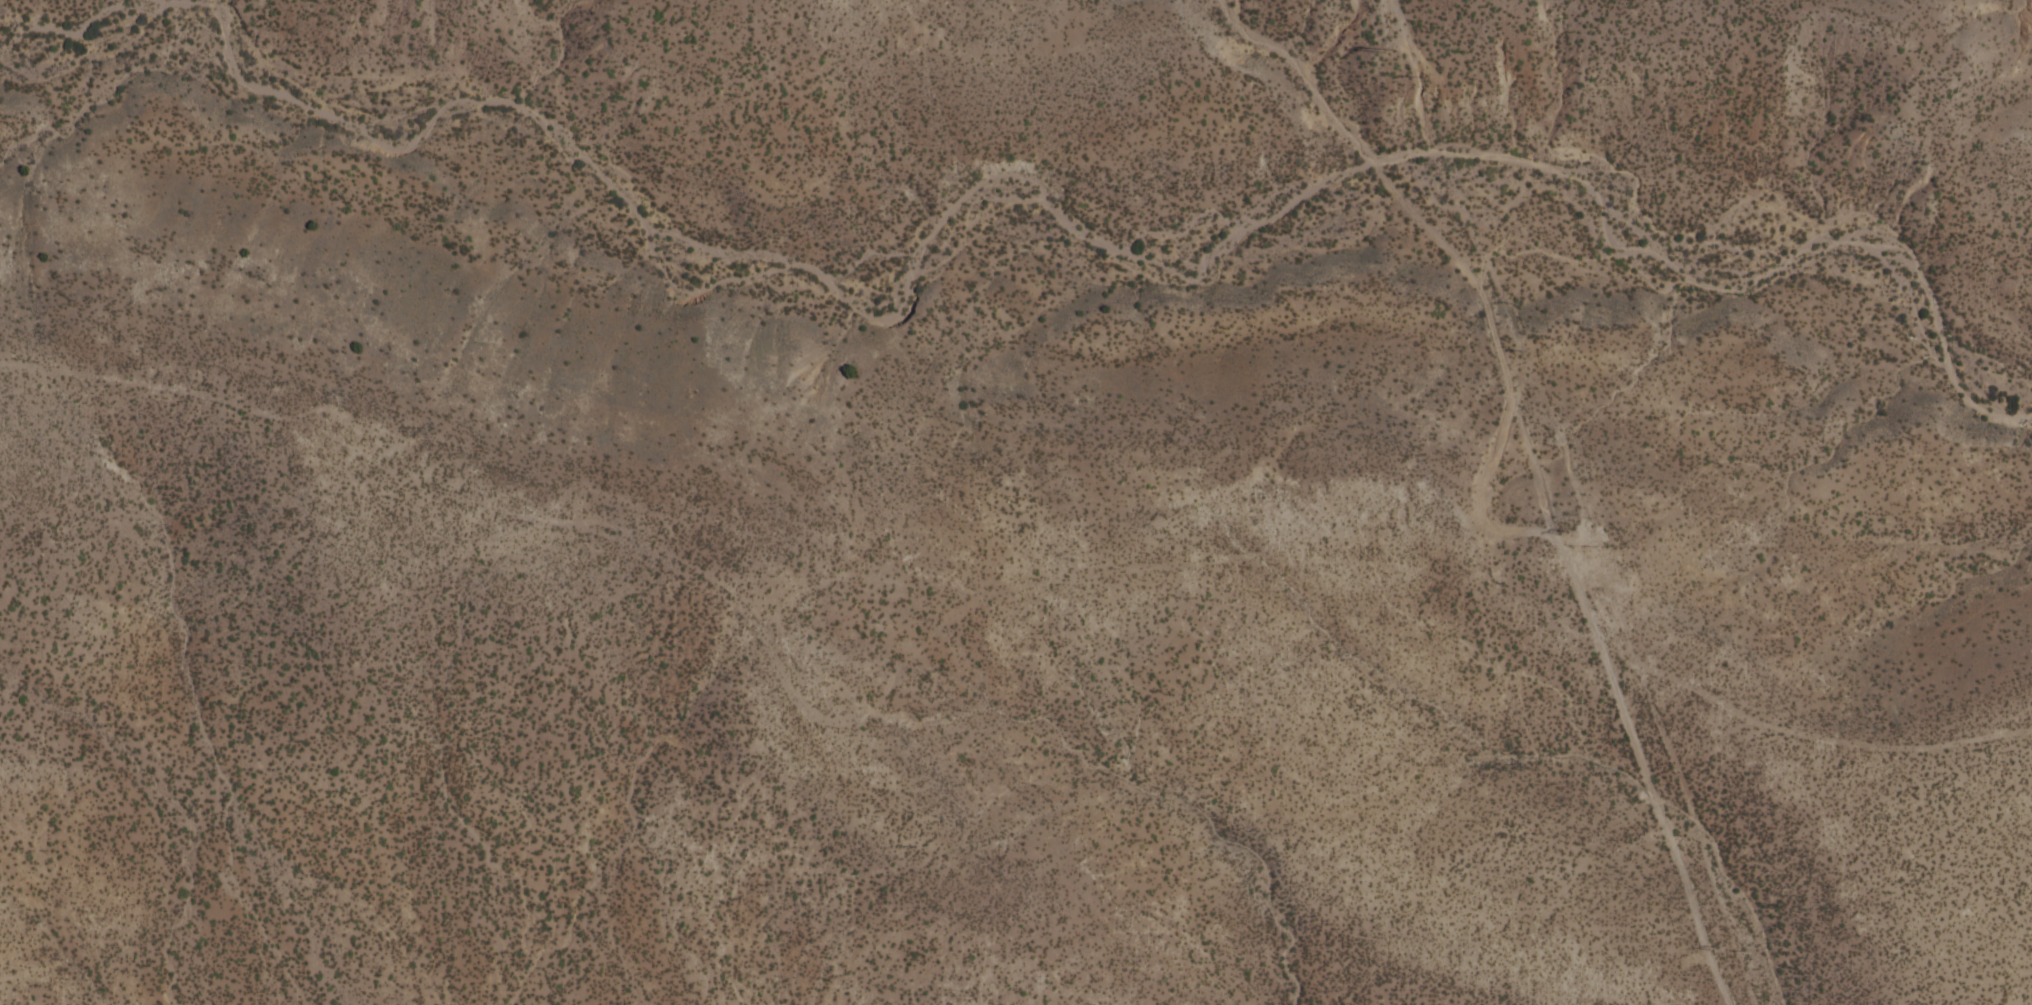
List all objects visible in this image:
road: (1536, 463)

